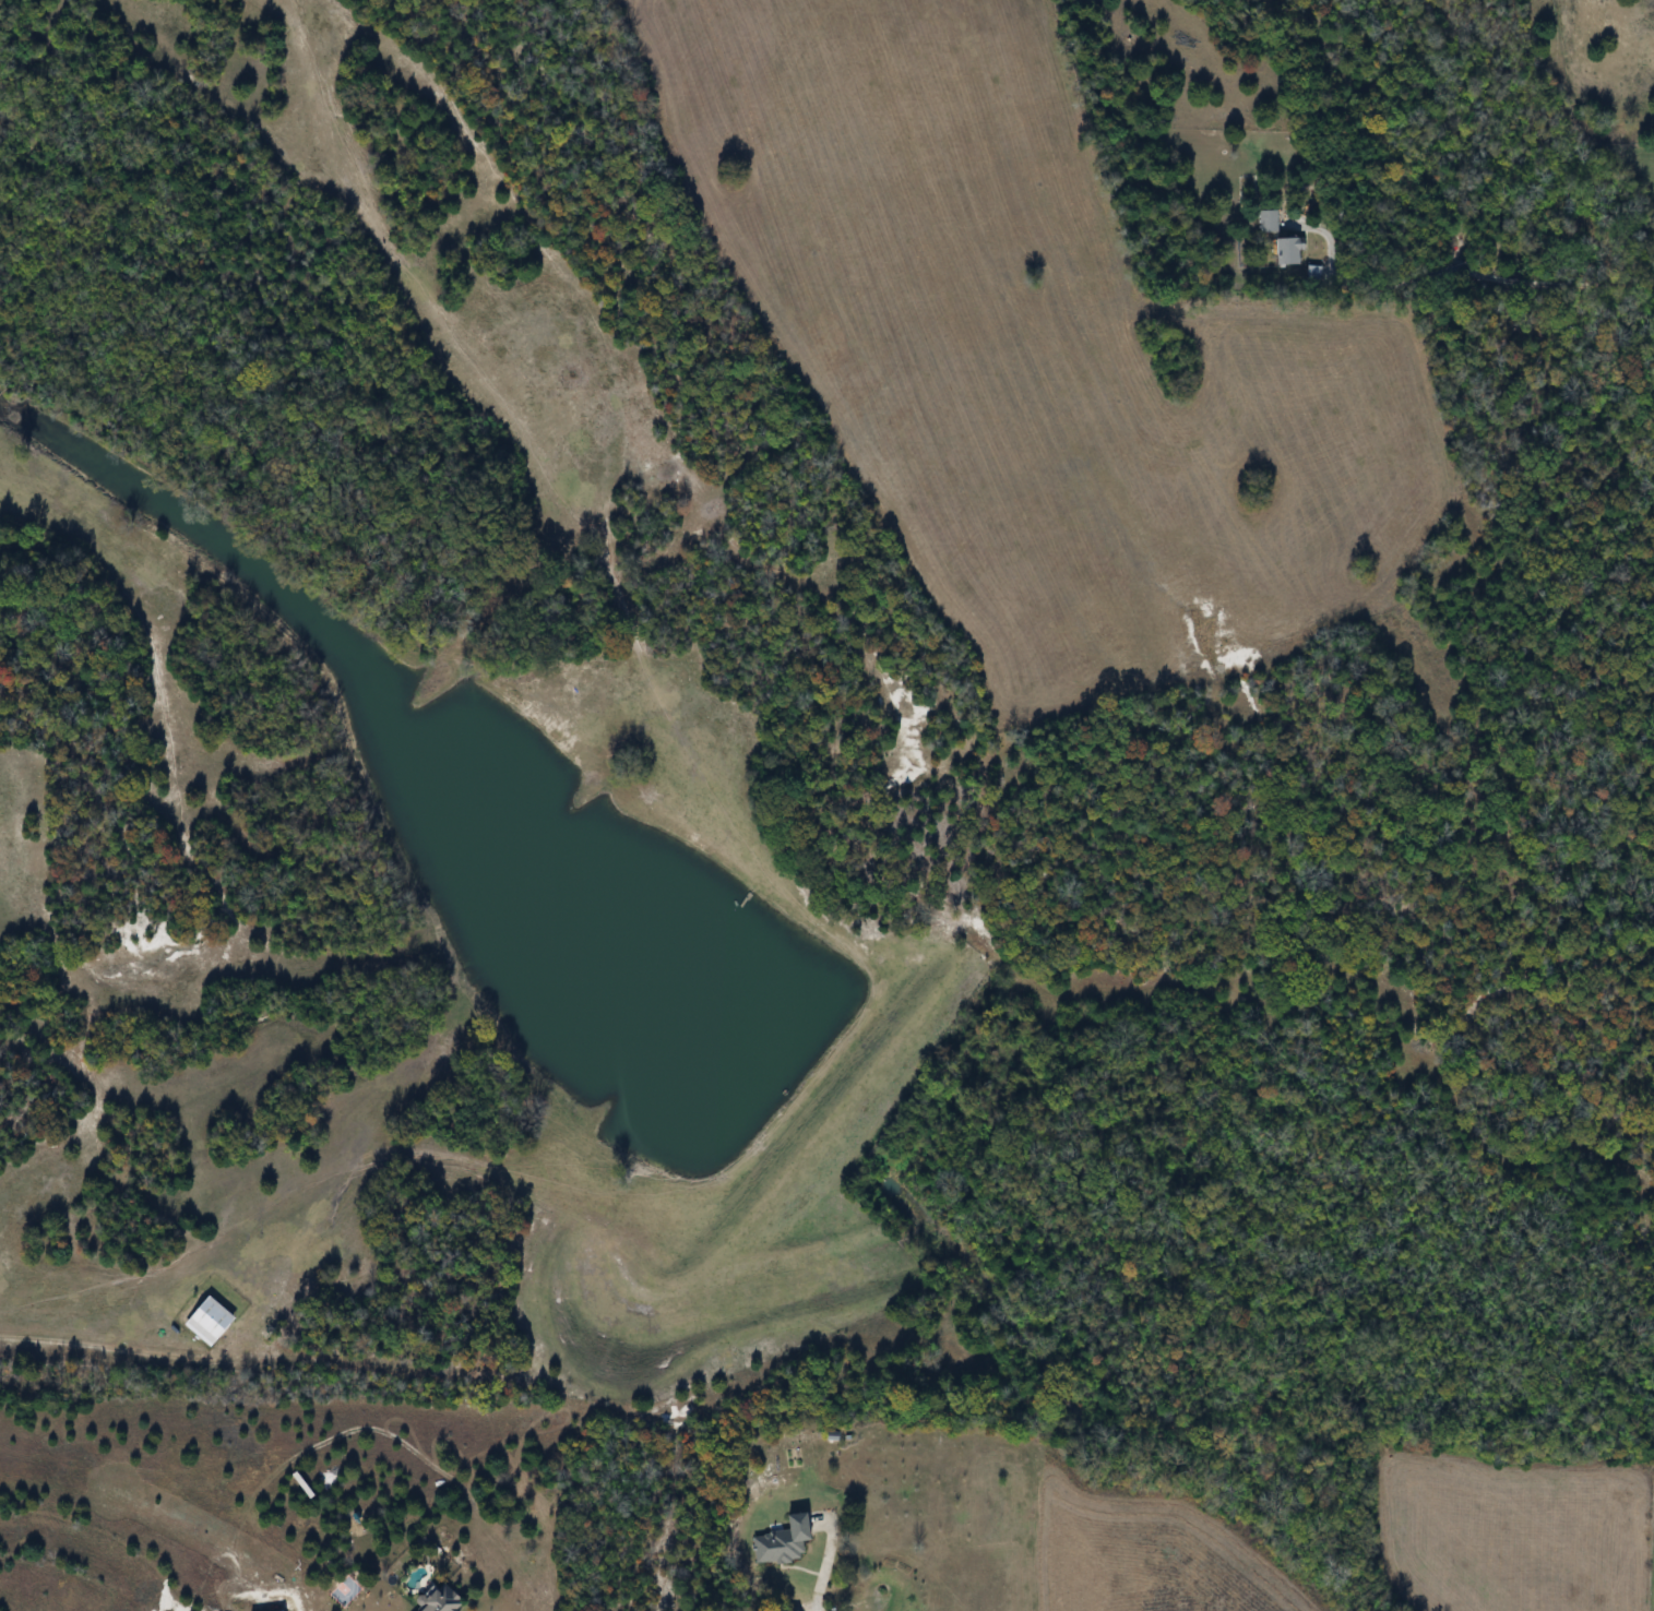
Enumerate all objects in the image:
building: (1270, 223)
building: (1292, 252)
road: (1483, 275)
building: (213, 1323)
building: (786, 1542)
road: (814, 1575)
building: (447, 1601)

